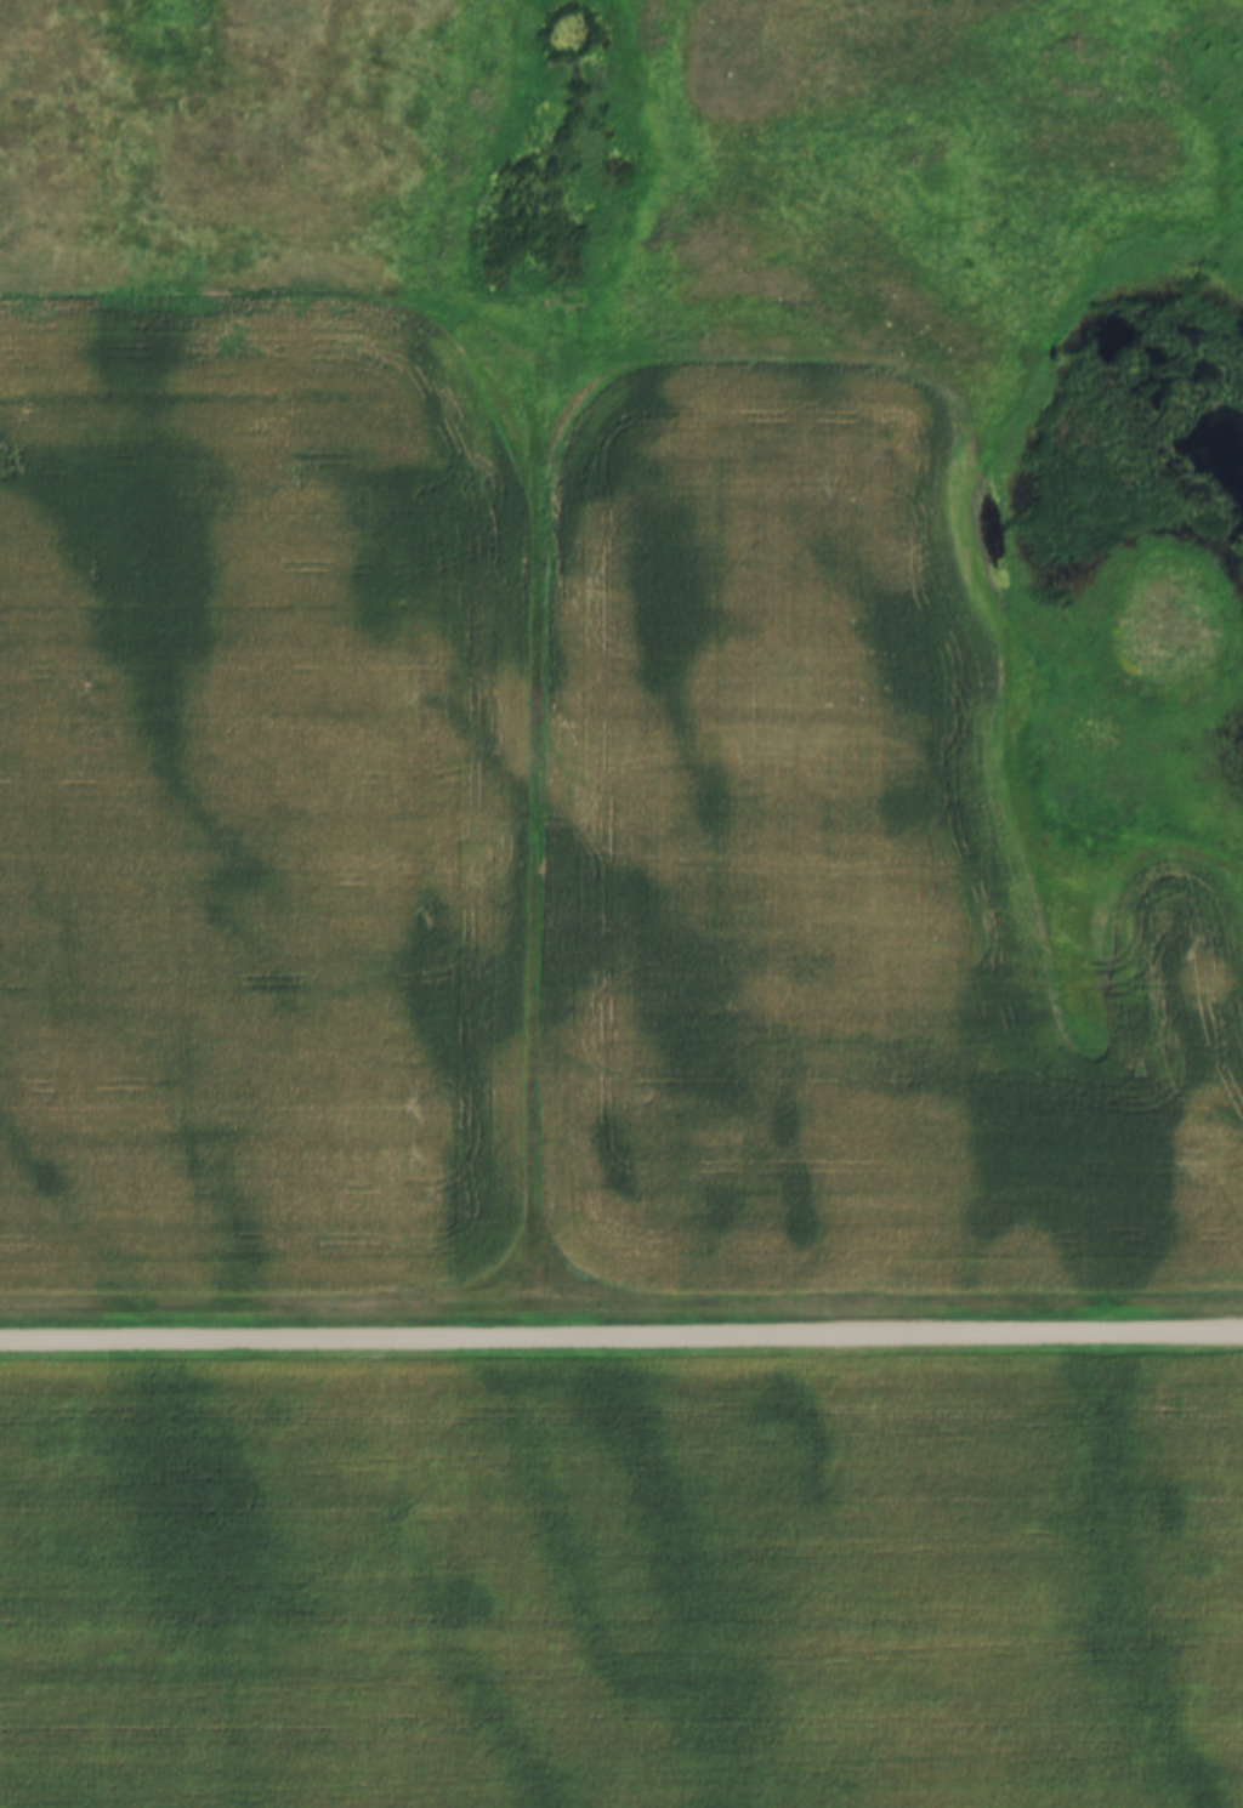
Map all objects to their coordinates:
road: (621, 1341)

